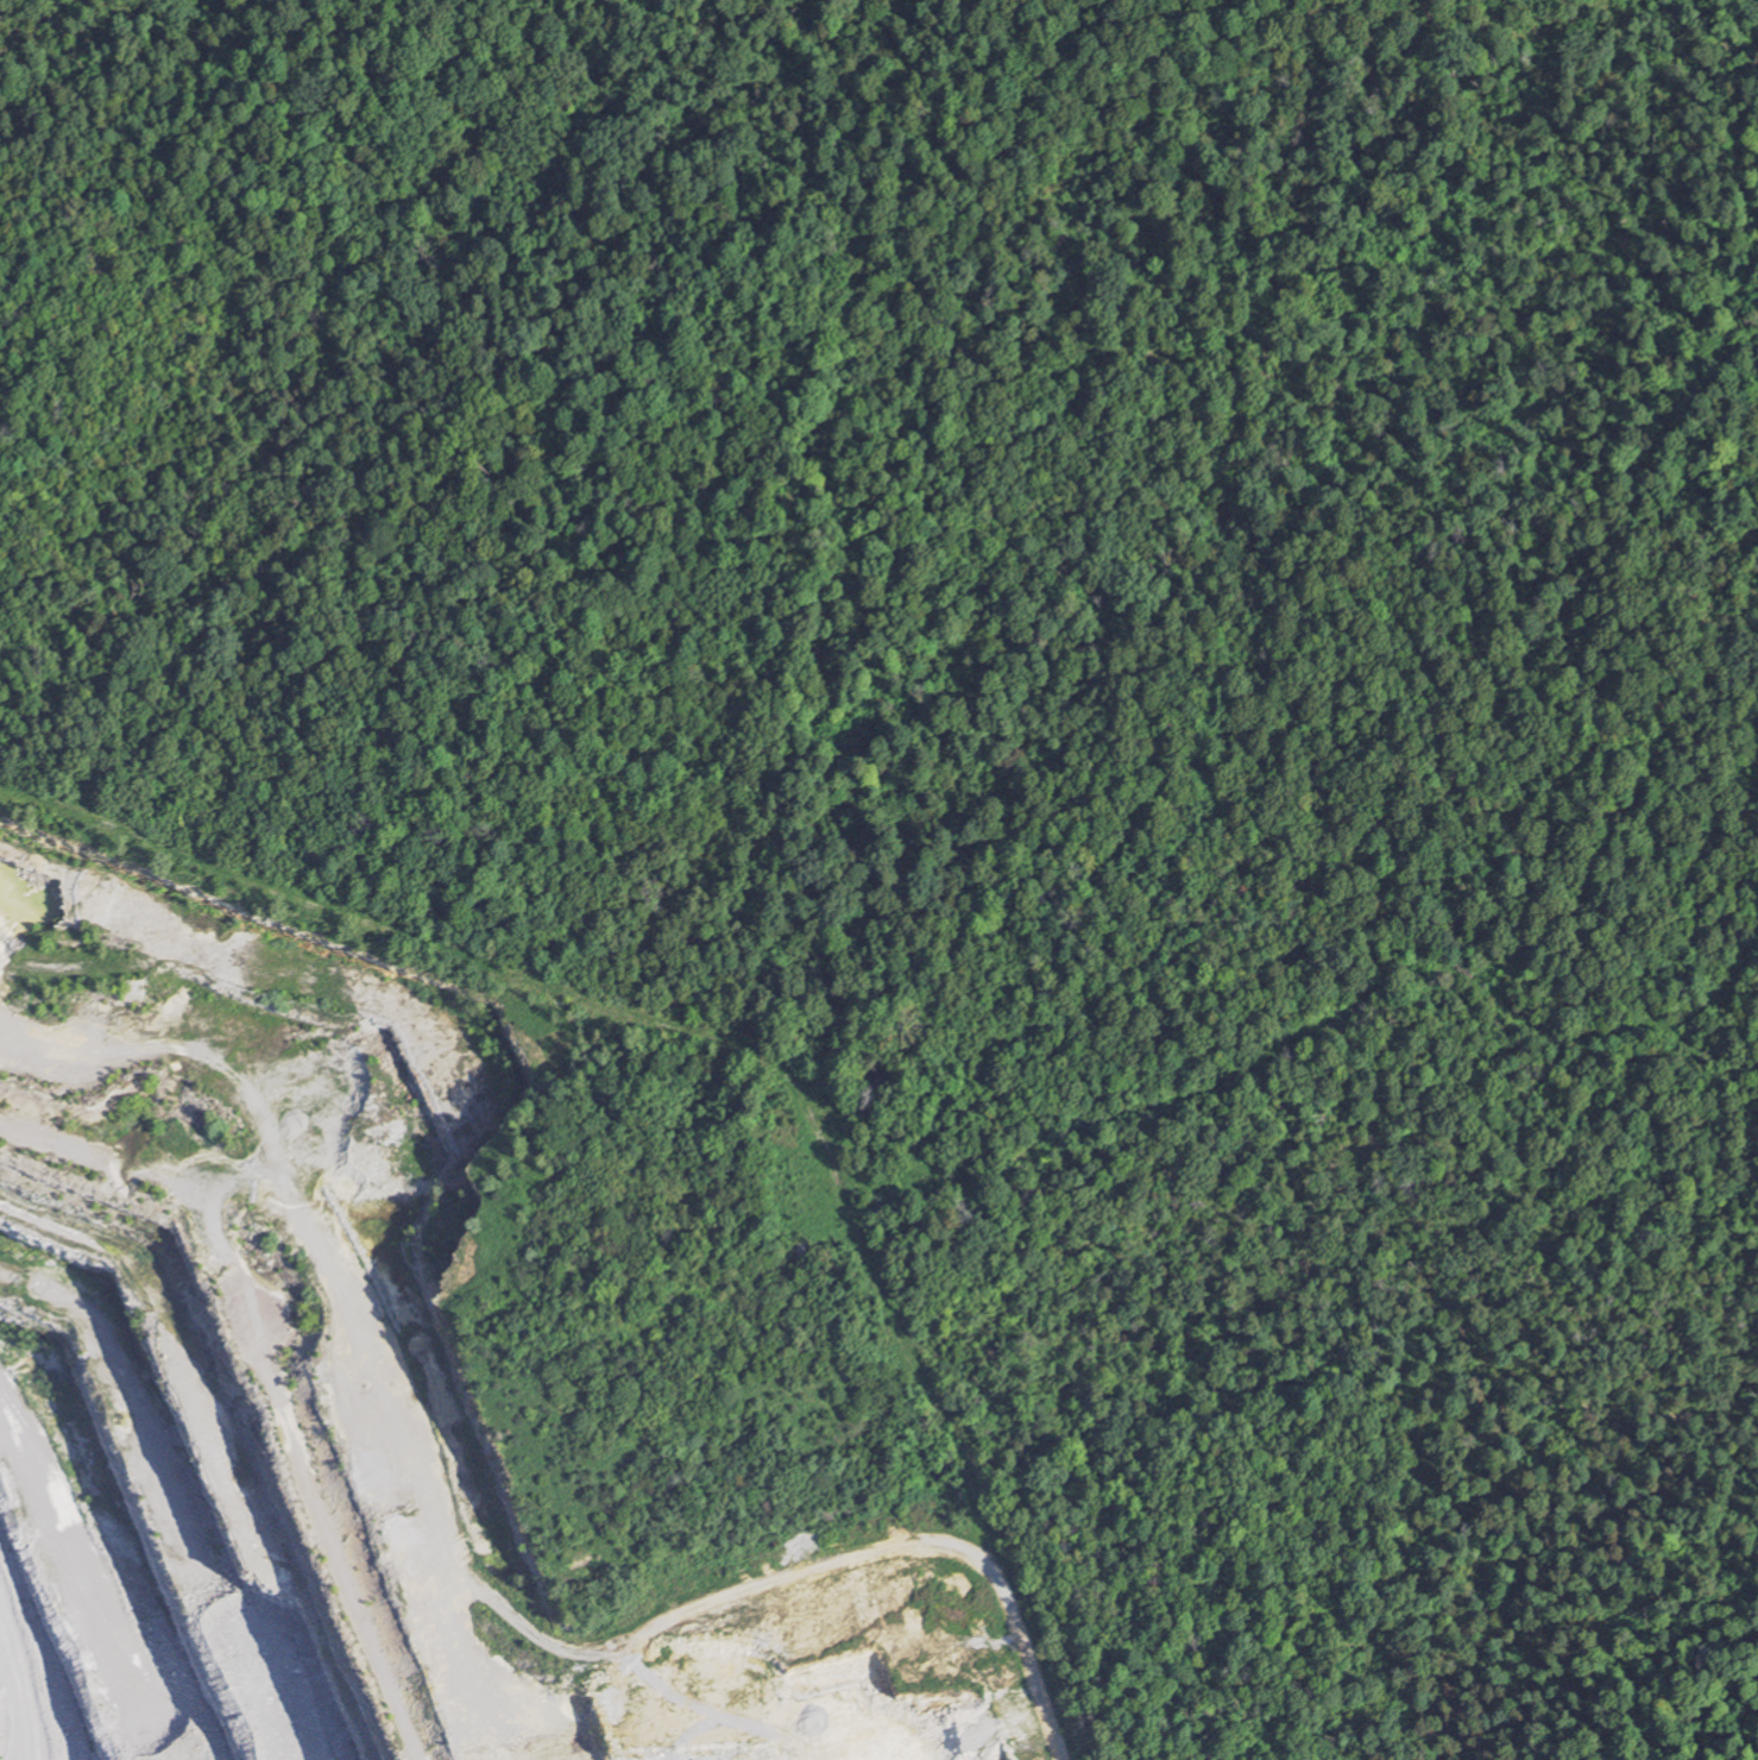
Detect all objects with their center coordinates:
road: (751, 1039)
quarry: (360, 1431)
road: (722, 1589)
road: (559, 1699)

